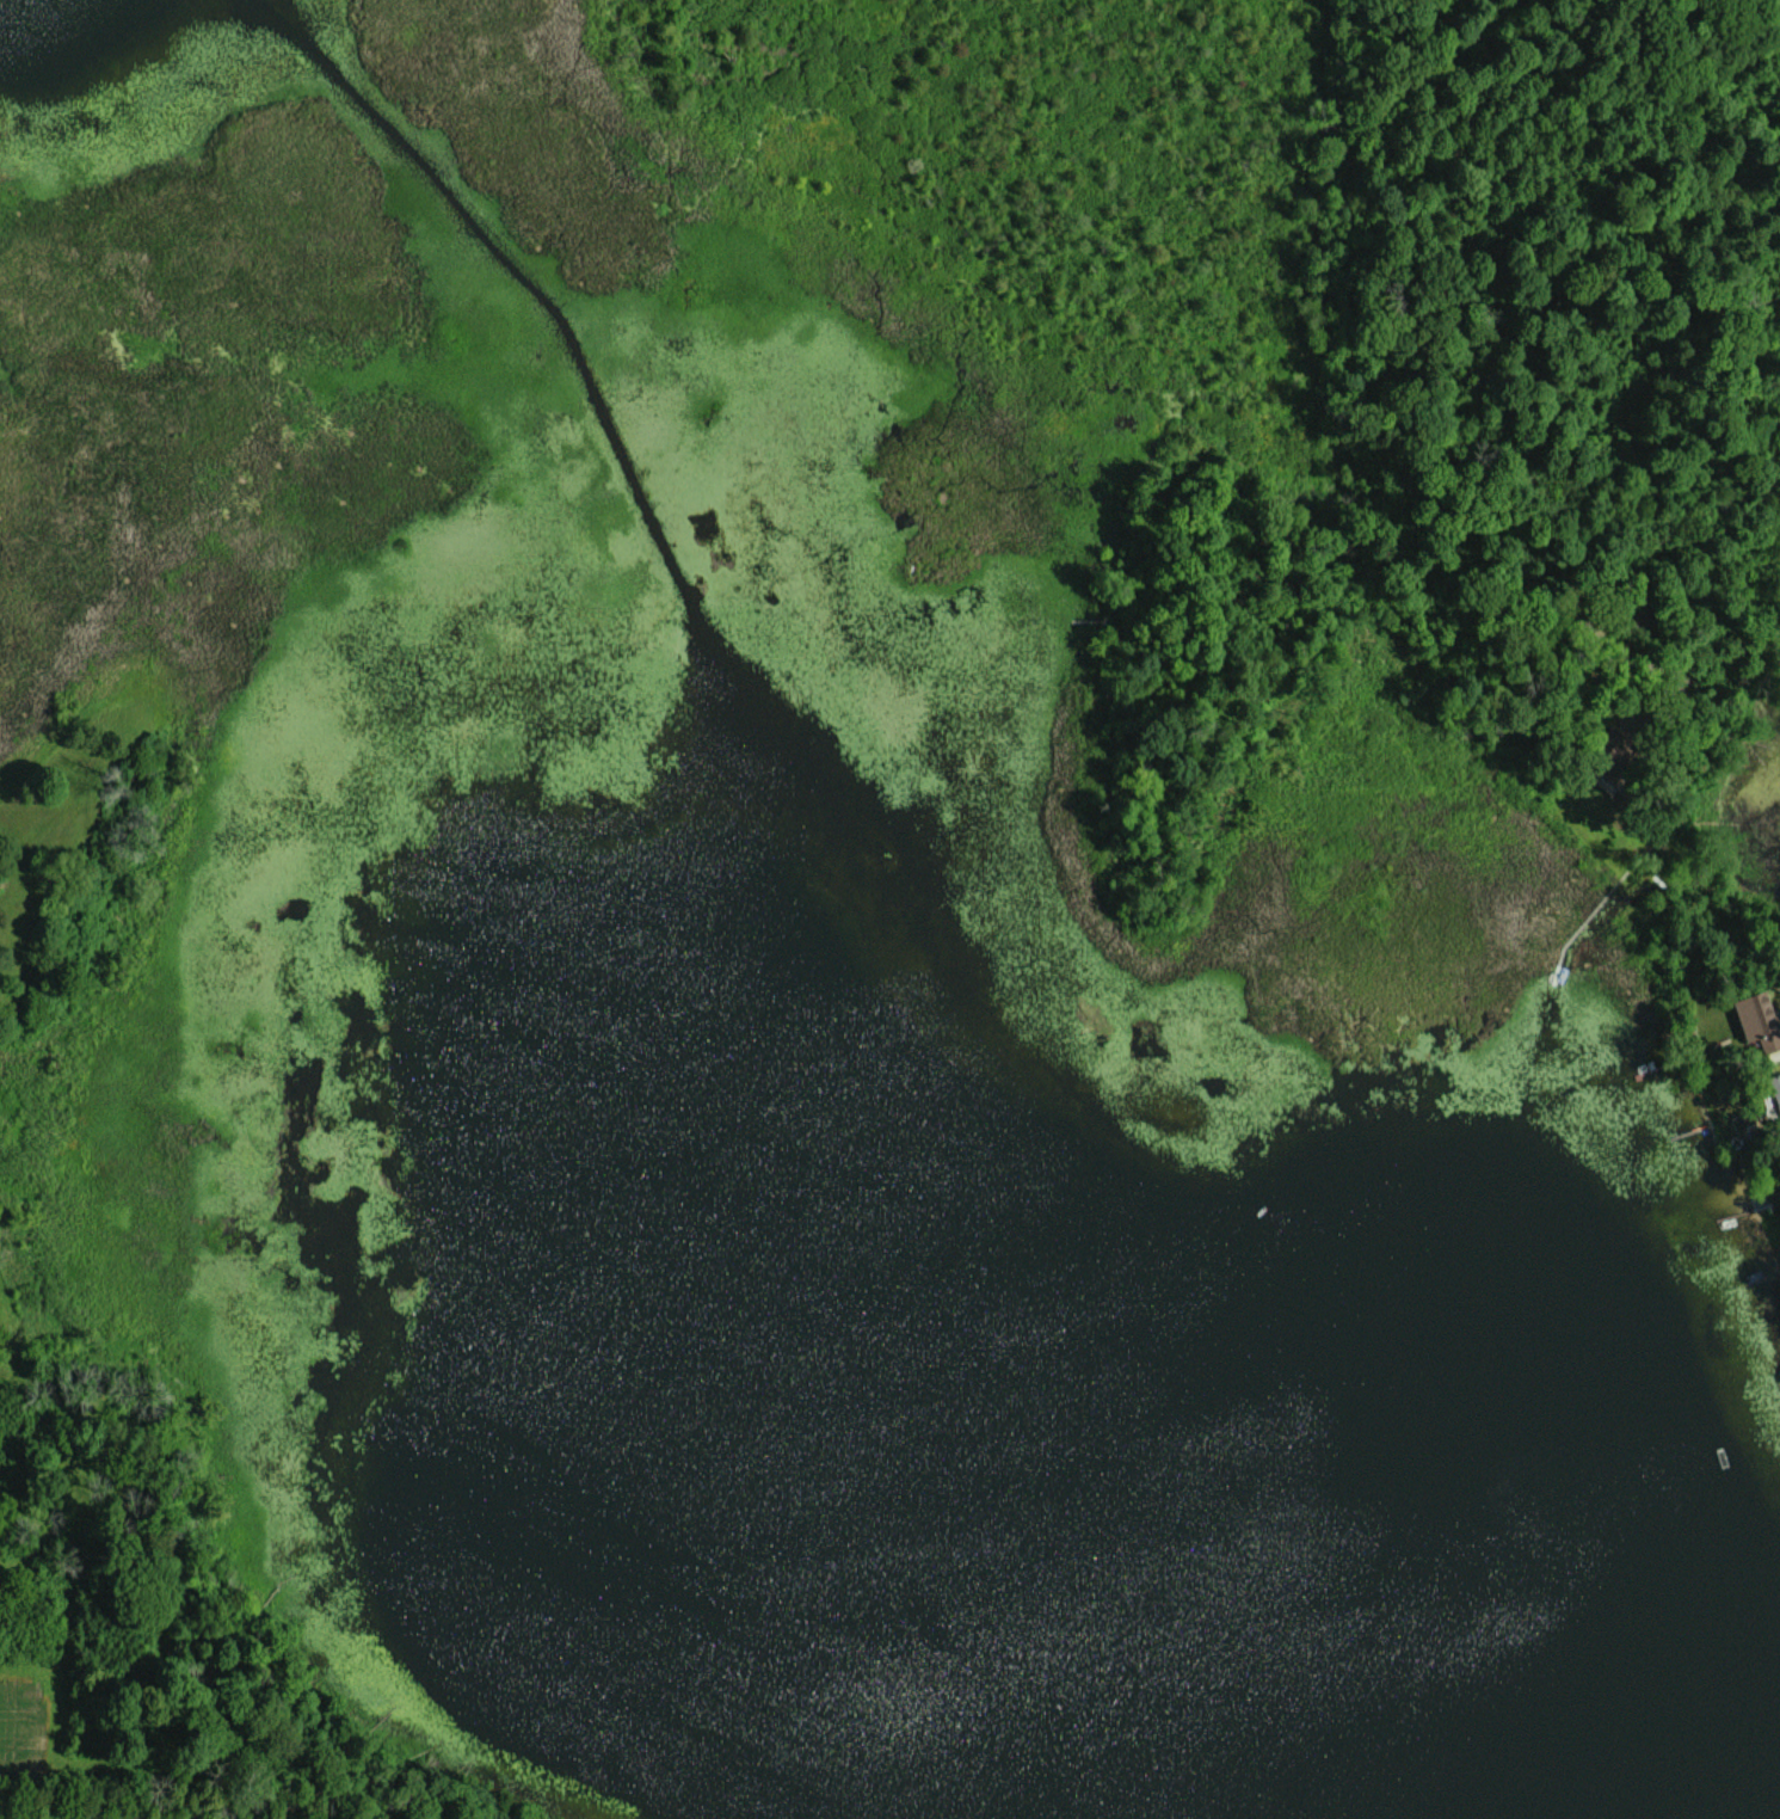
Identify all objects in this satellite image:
road: (1674, 299)
road: (1618, 655)
building: (1757, 1021)

